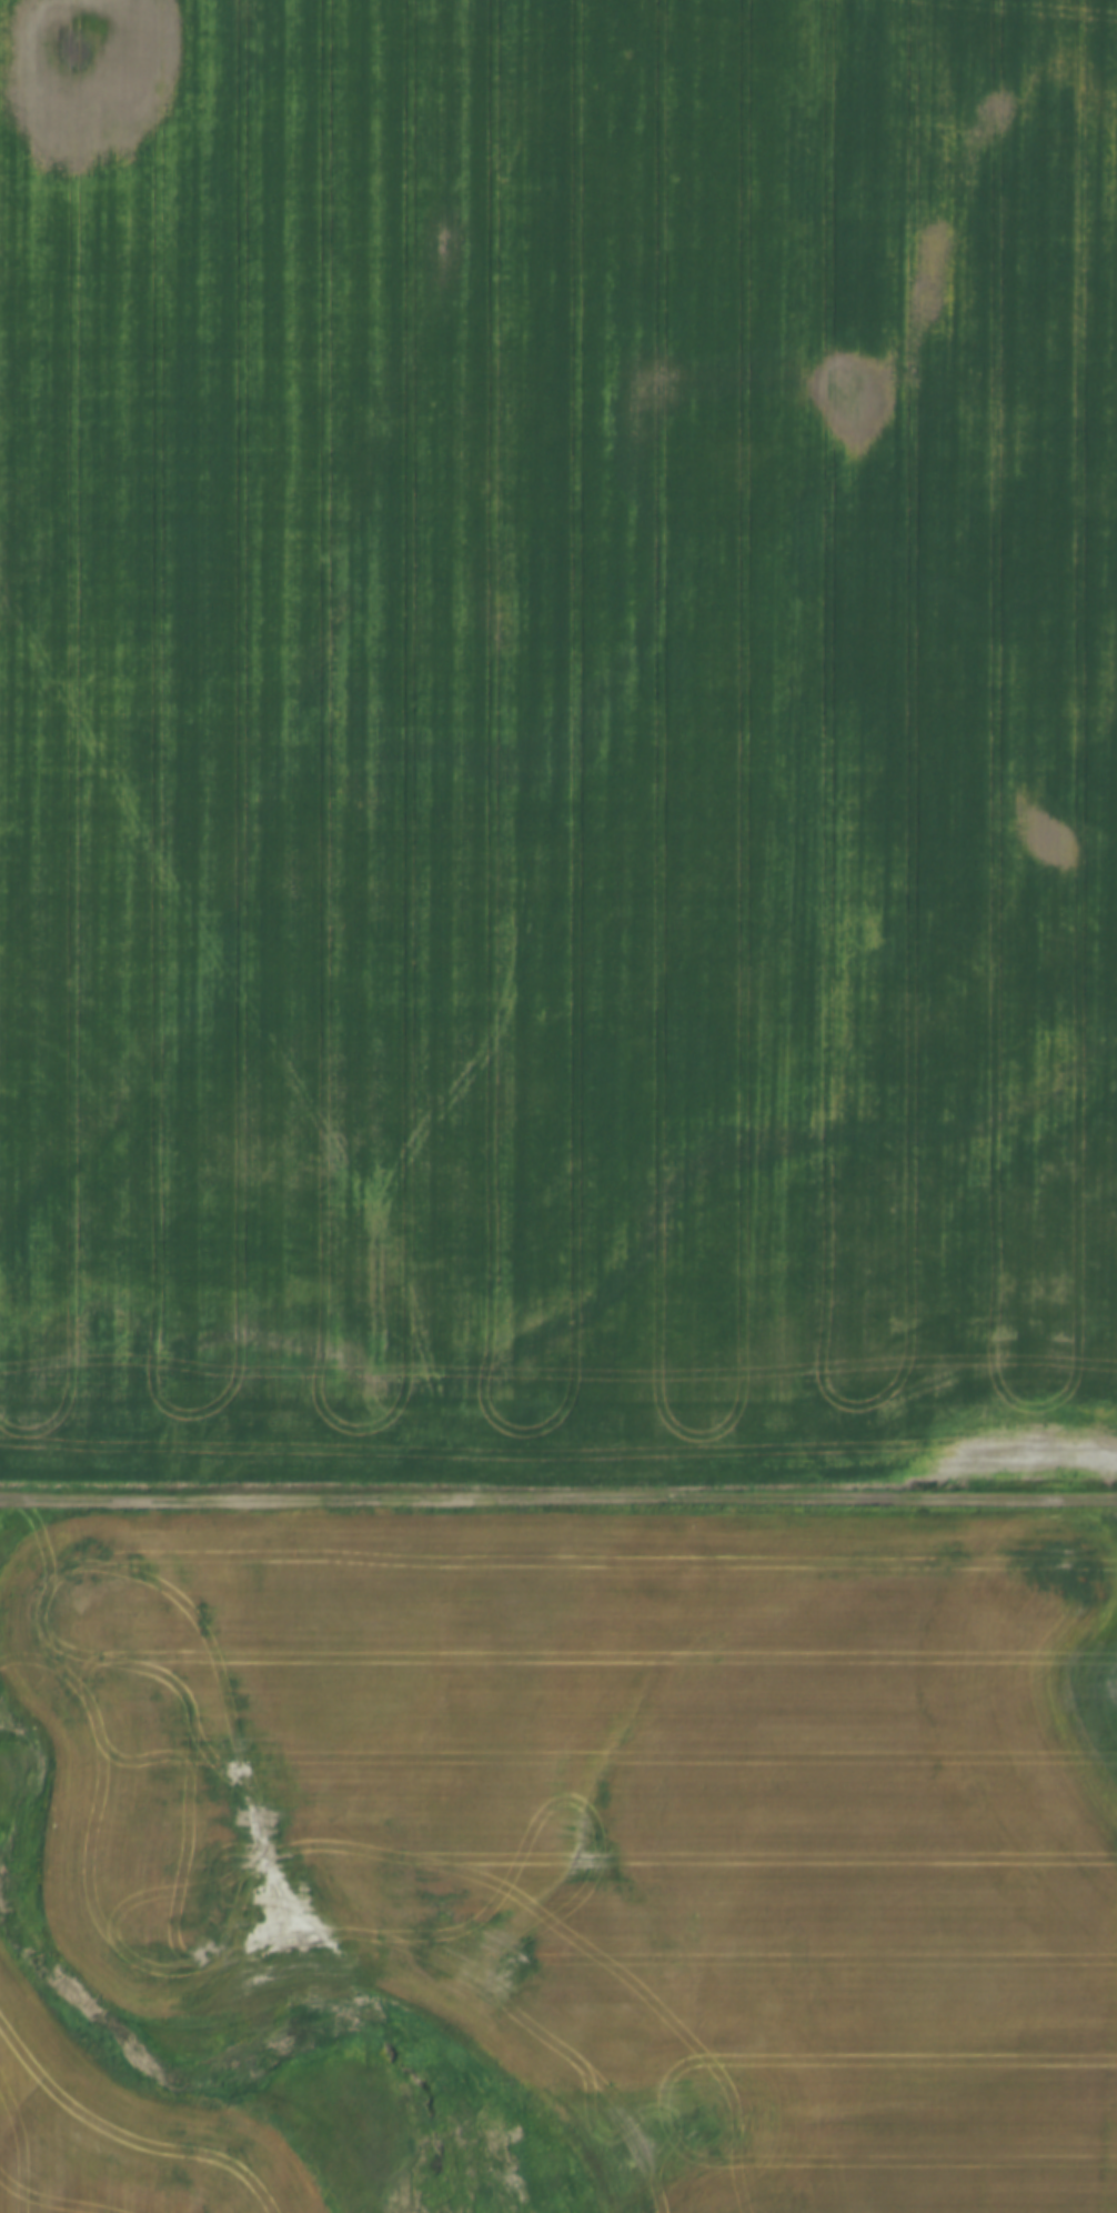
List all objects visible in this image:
road: (558, 1501)

